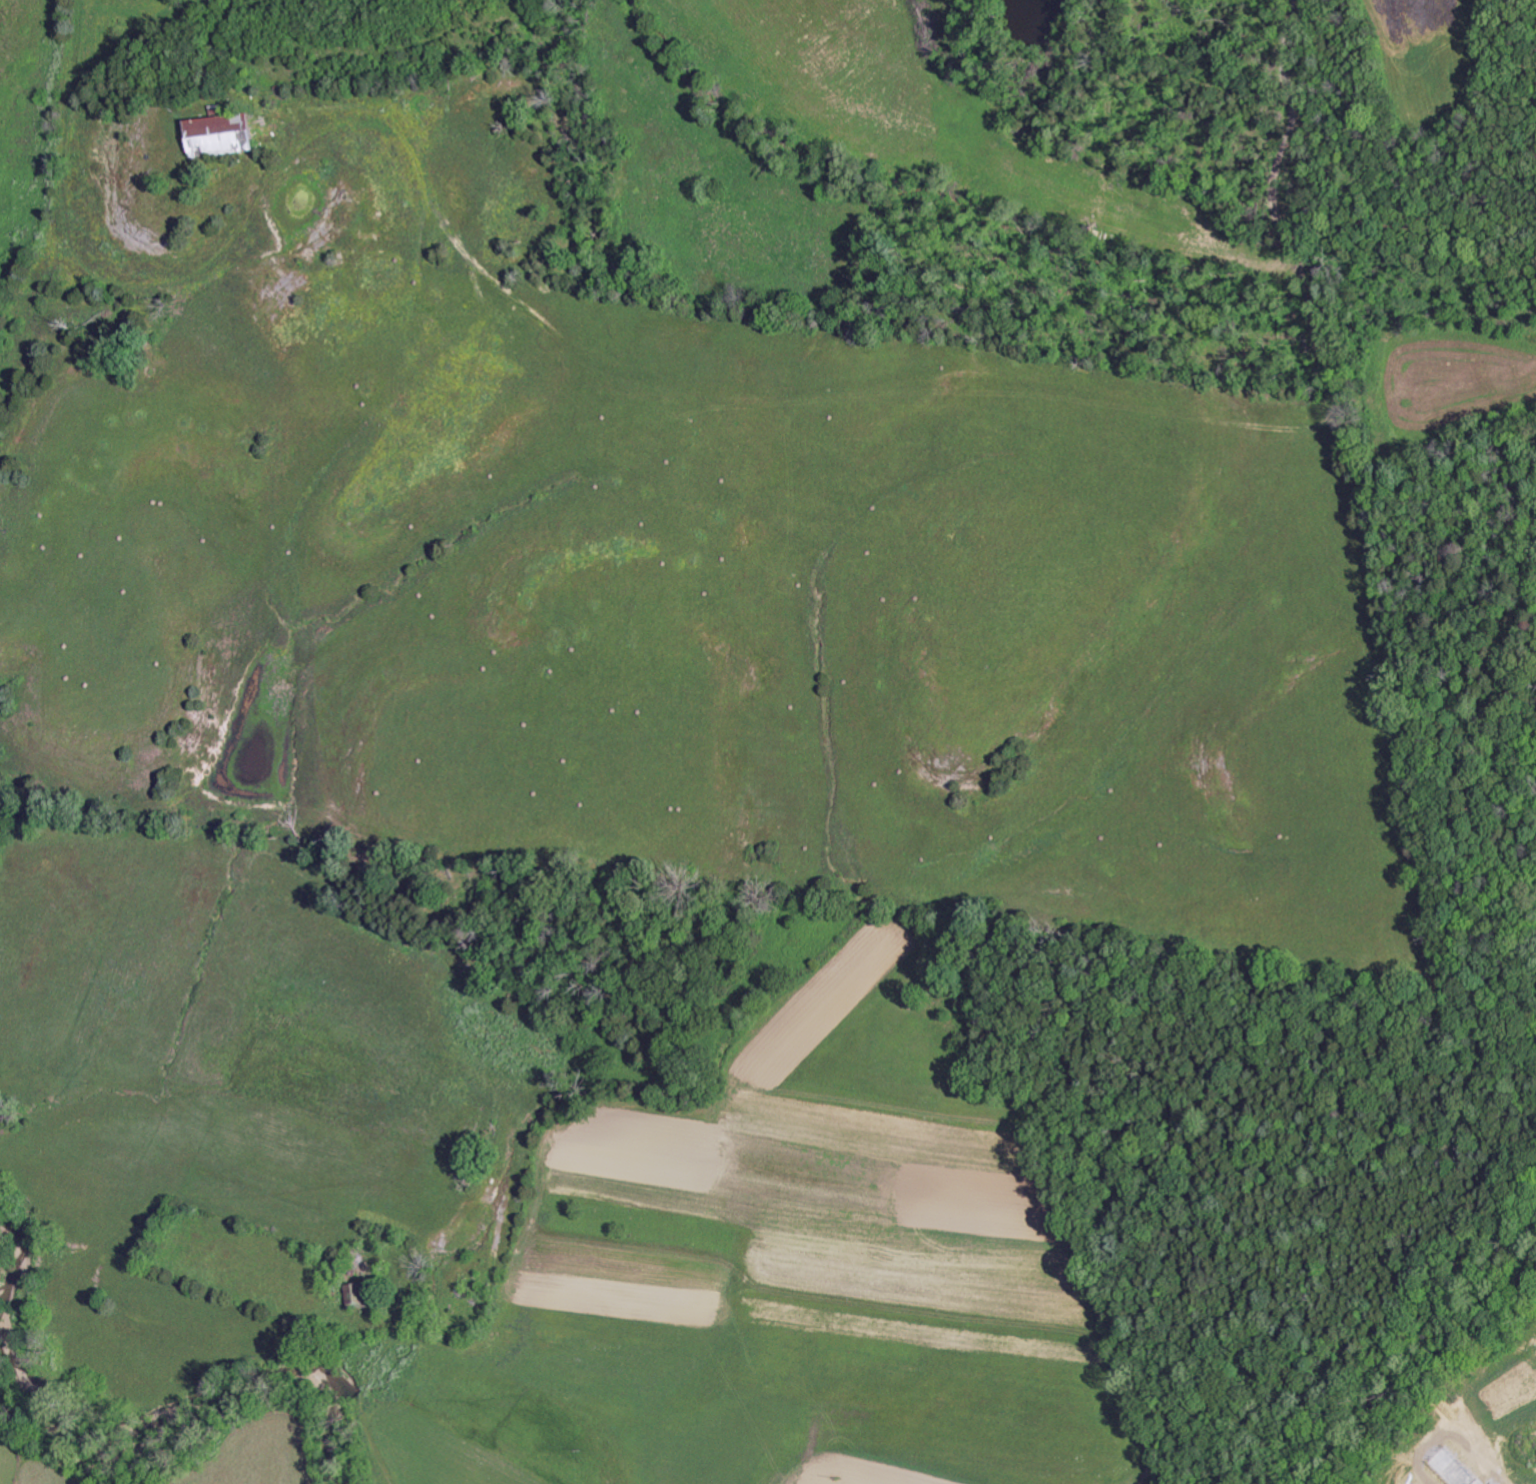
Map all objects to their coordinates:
road: (99, 196)
road: (316, 1392)

